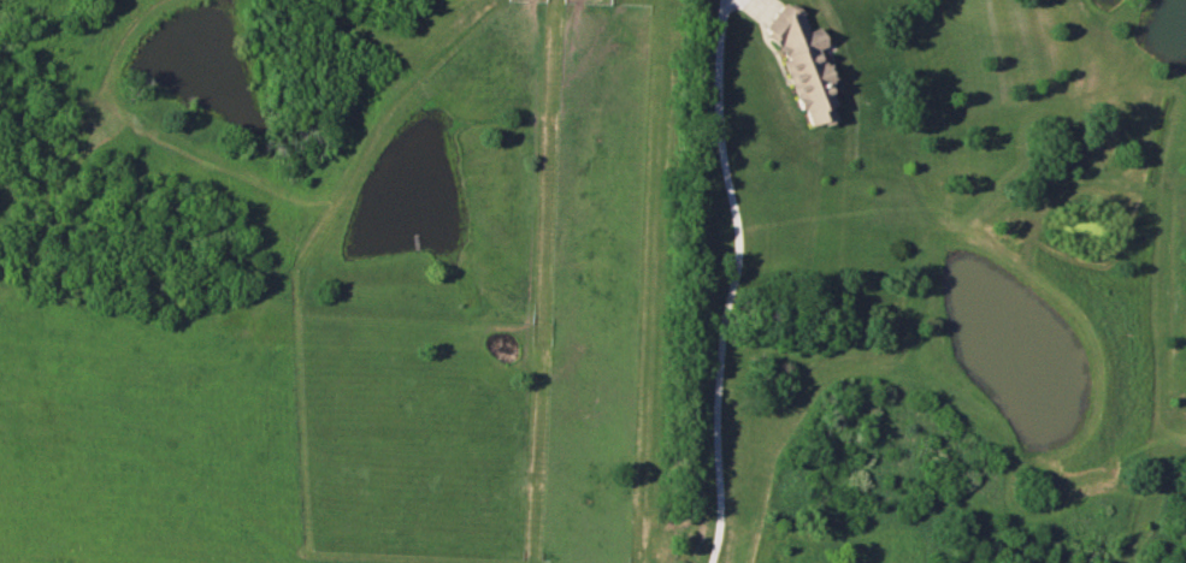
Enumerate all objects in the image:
building: (803, 65)
road: (728, 280)

